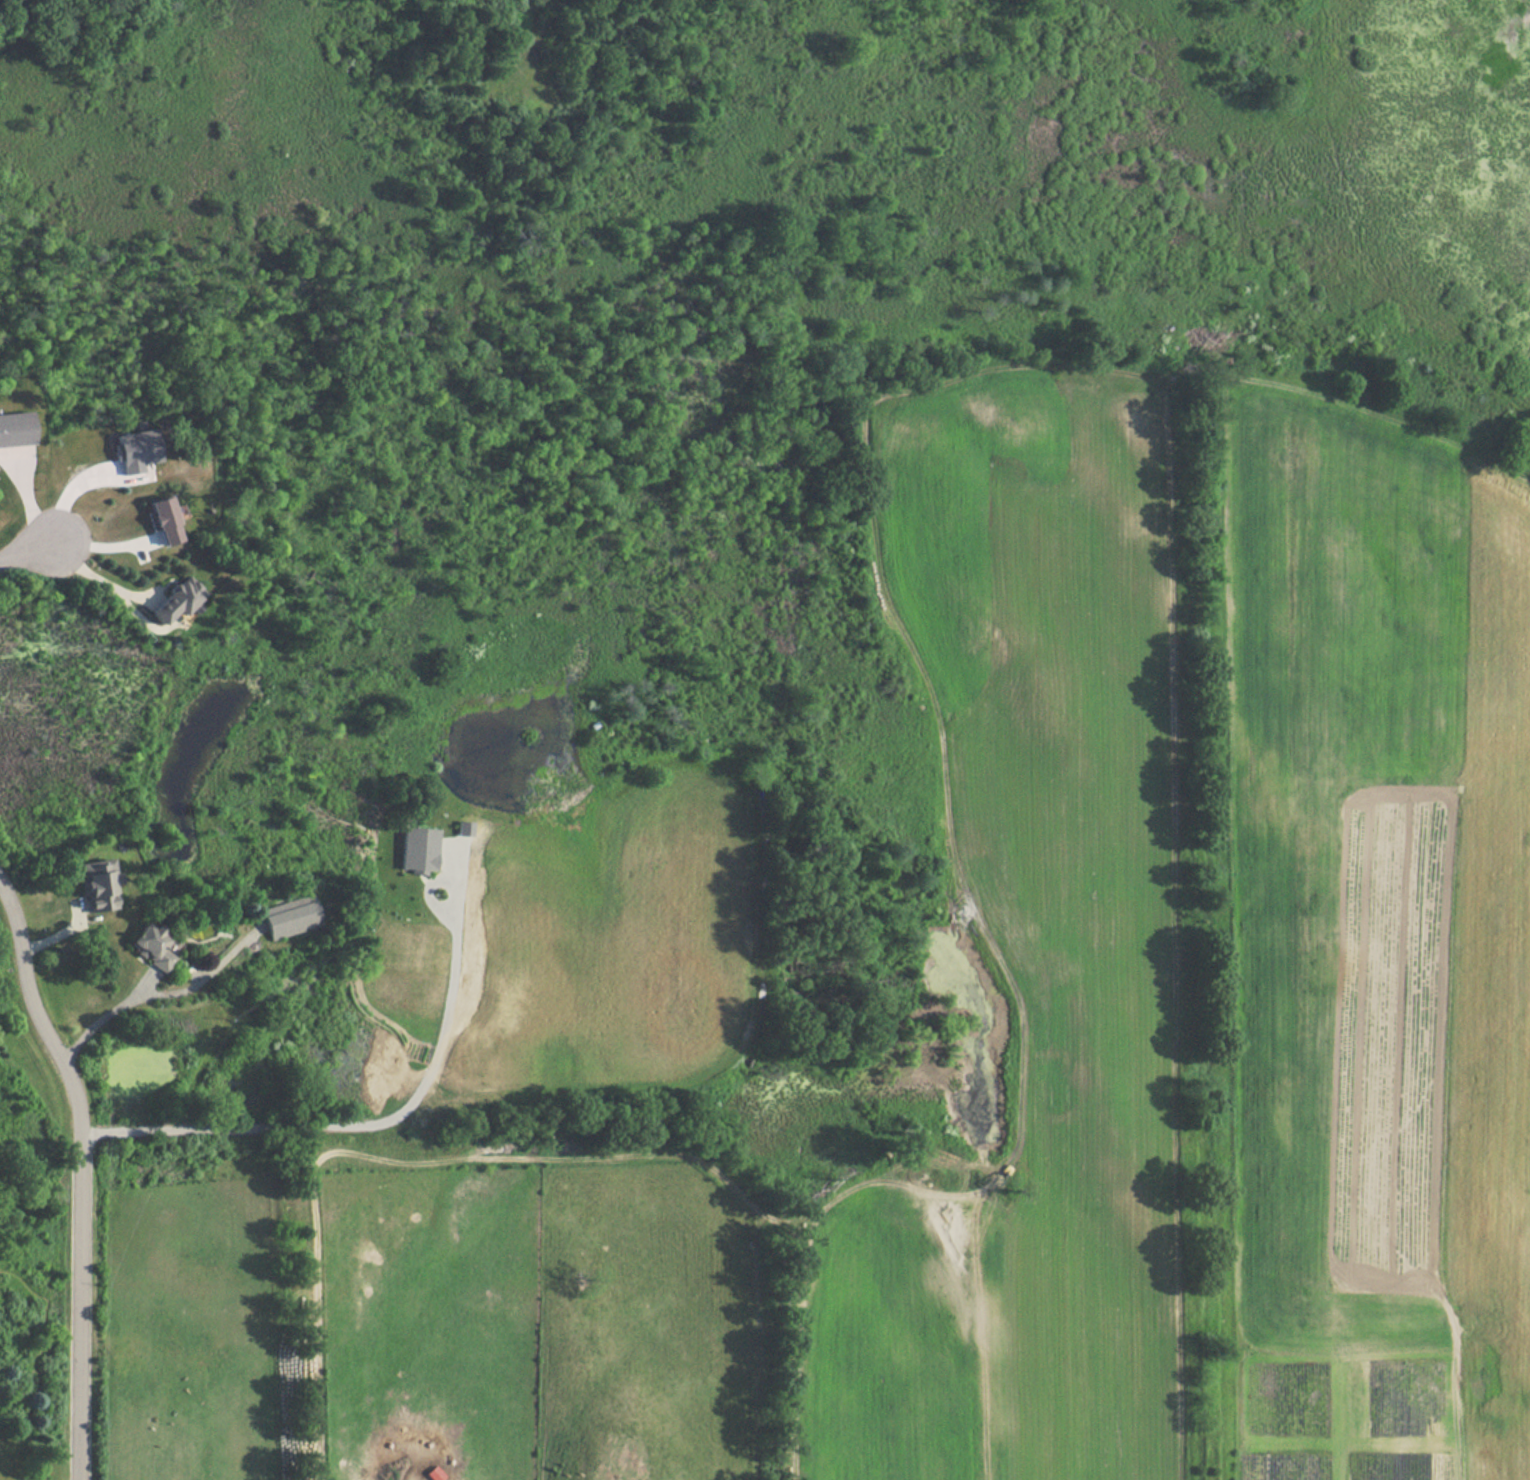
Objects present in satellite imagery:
building: (16, 428)
building: (137, 450)
building: (162, 520)
road: (29, 543)
road: (92, 577)
building: (177, 599)
building: (465, 828)
building: (419, 849)
building: (99, 884)
building: (291, 916)
building: (153, 946)
road: (104, 1015)
road: (370, 1122)
road: (77, 1168)

